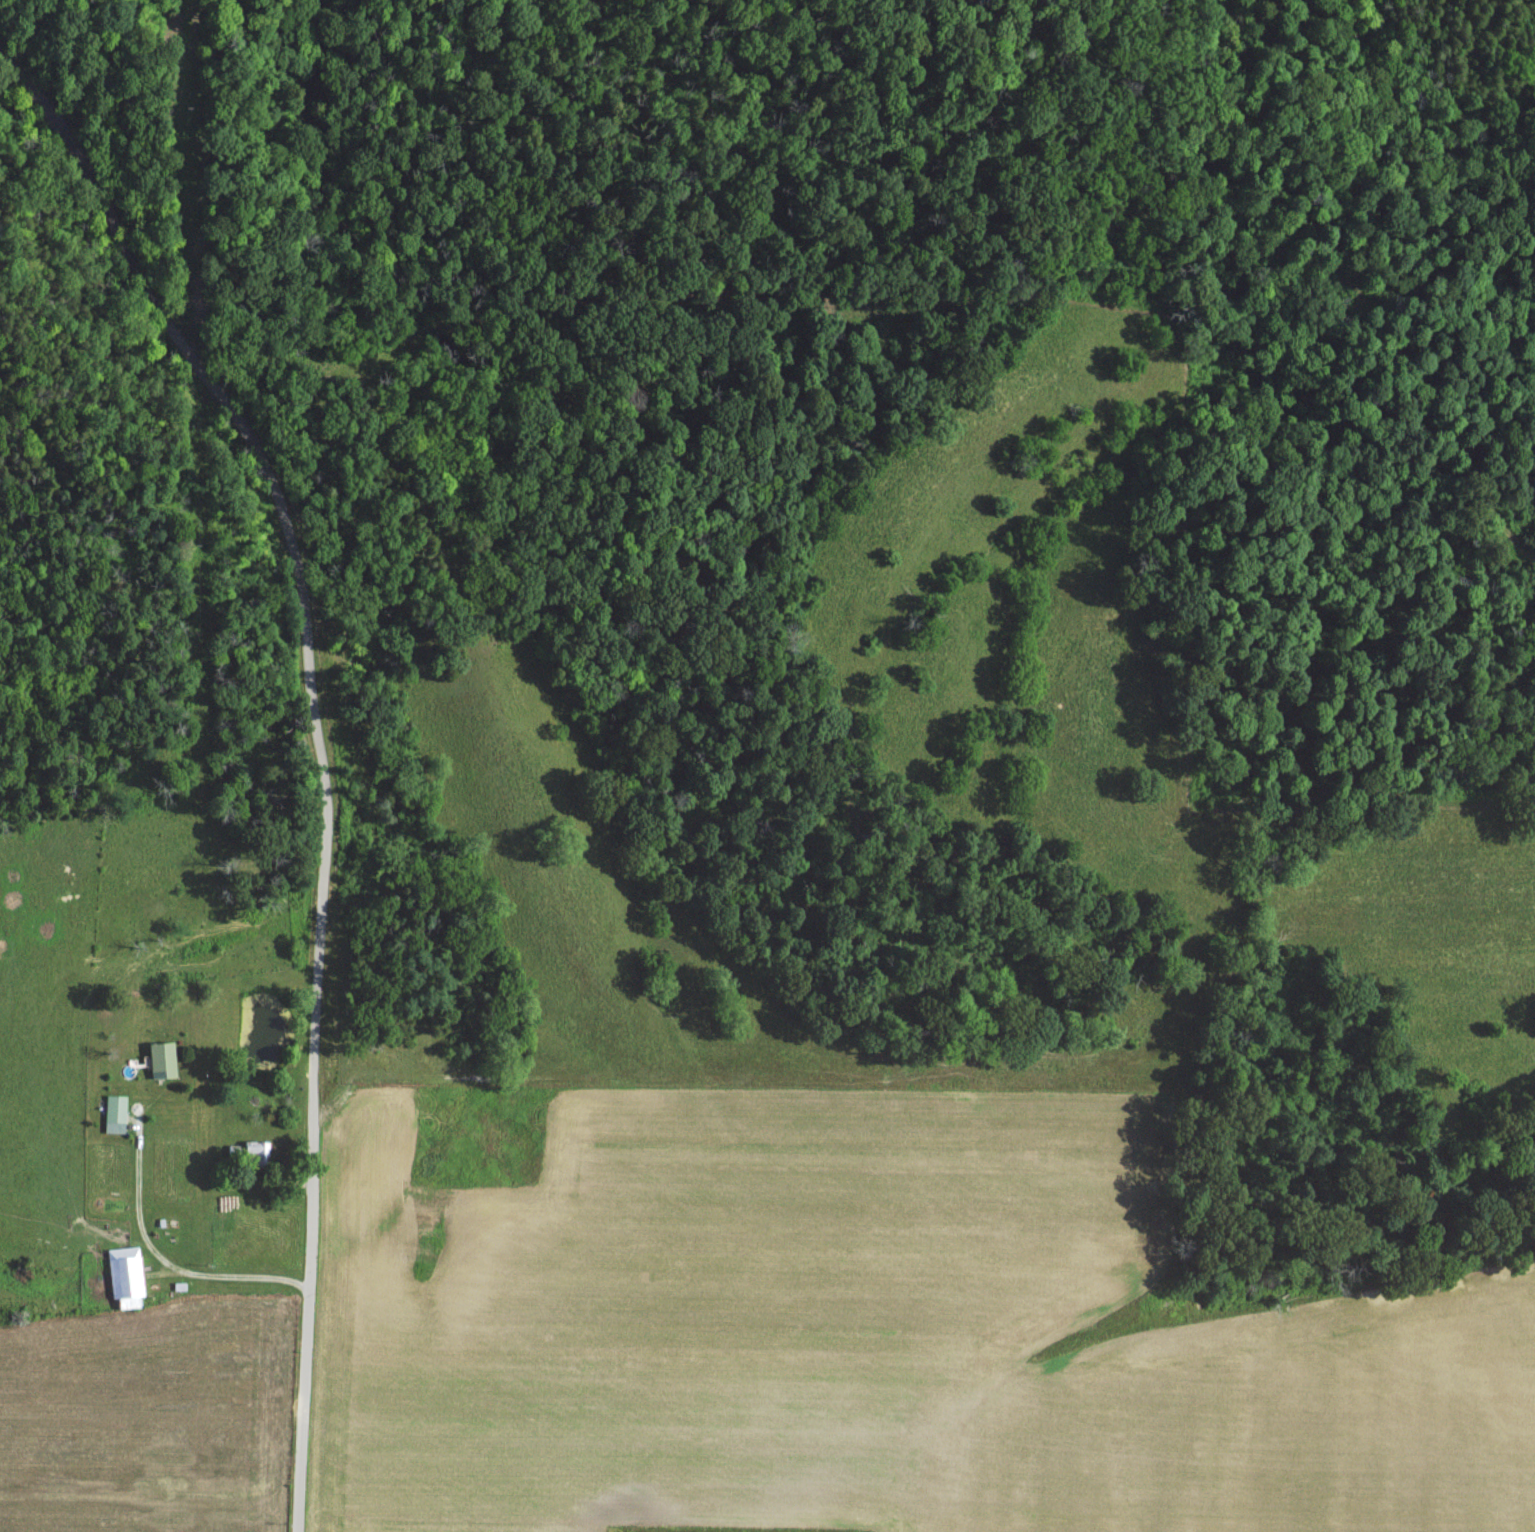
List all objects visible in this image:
road: (317, 753)
building: (156, 1066)
building: (110, 1121)
road: (159, 1260)
building: (120, 1284)

